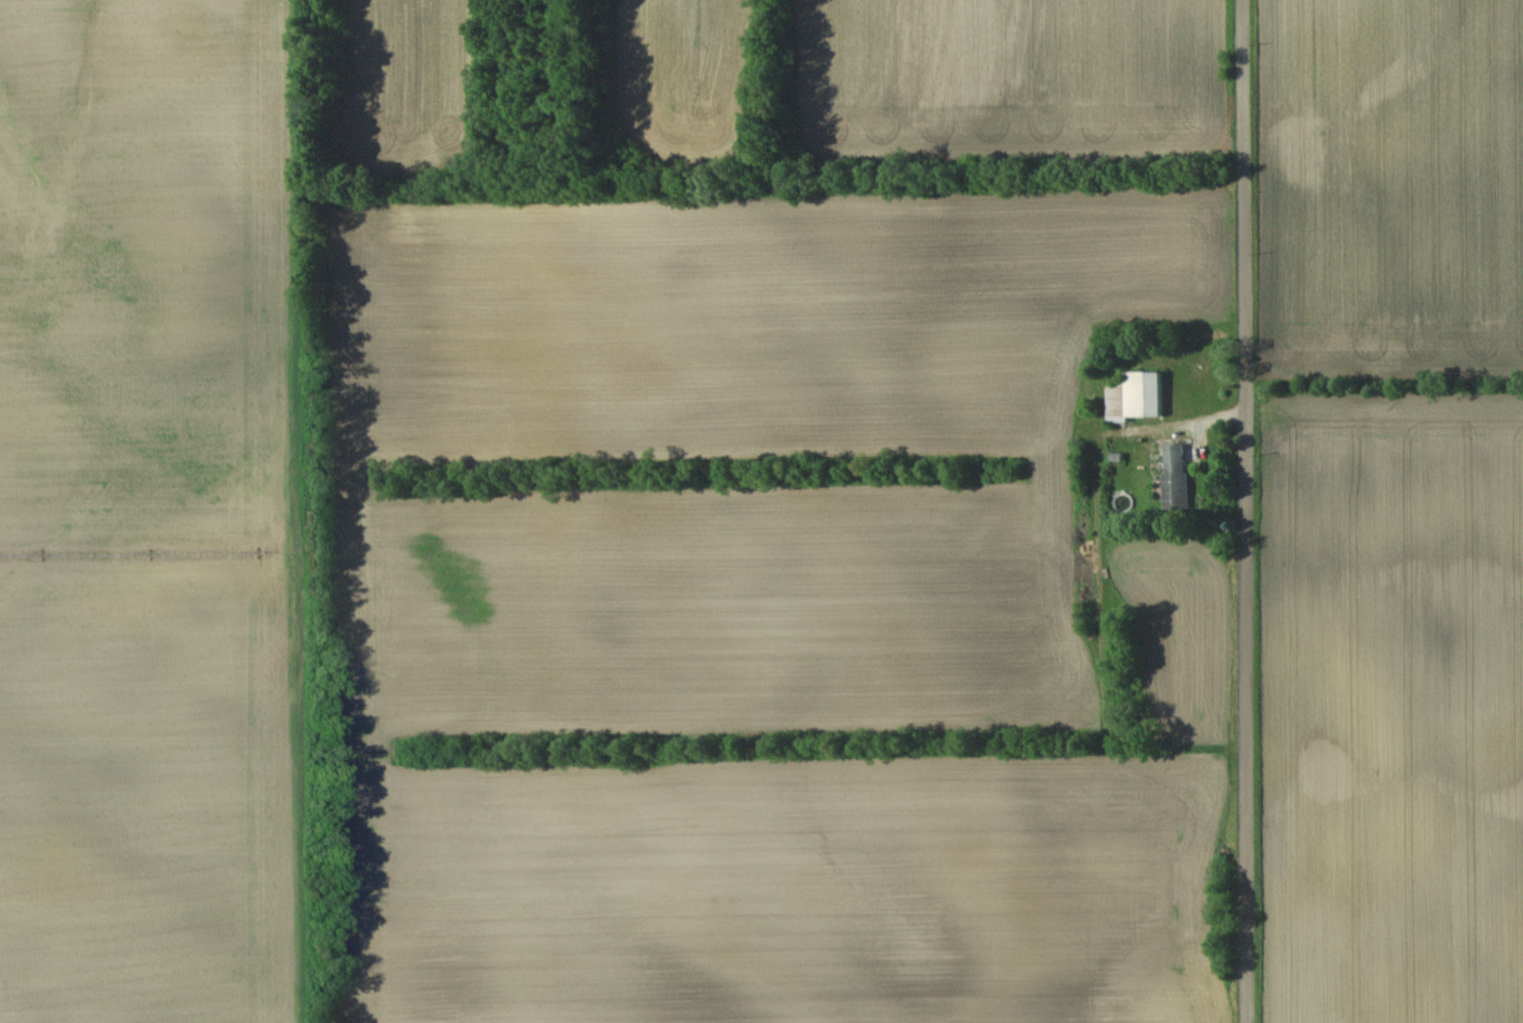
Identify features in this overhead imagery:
building: (1175, 475)
road: (1246, 511)

